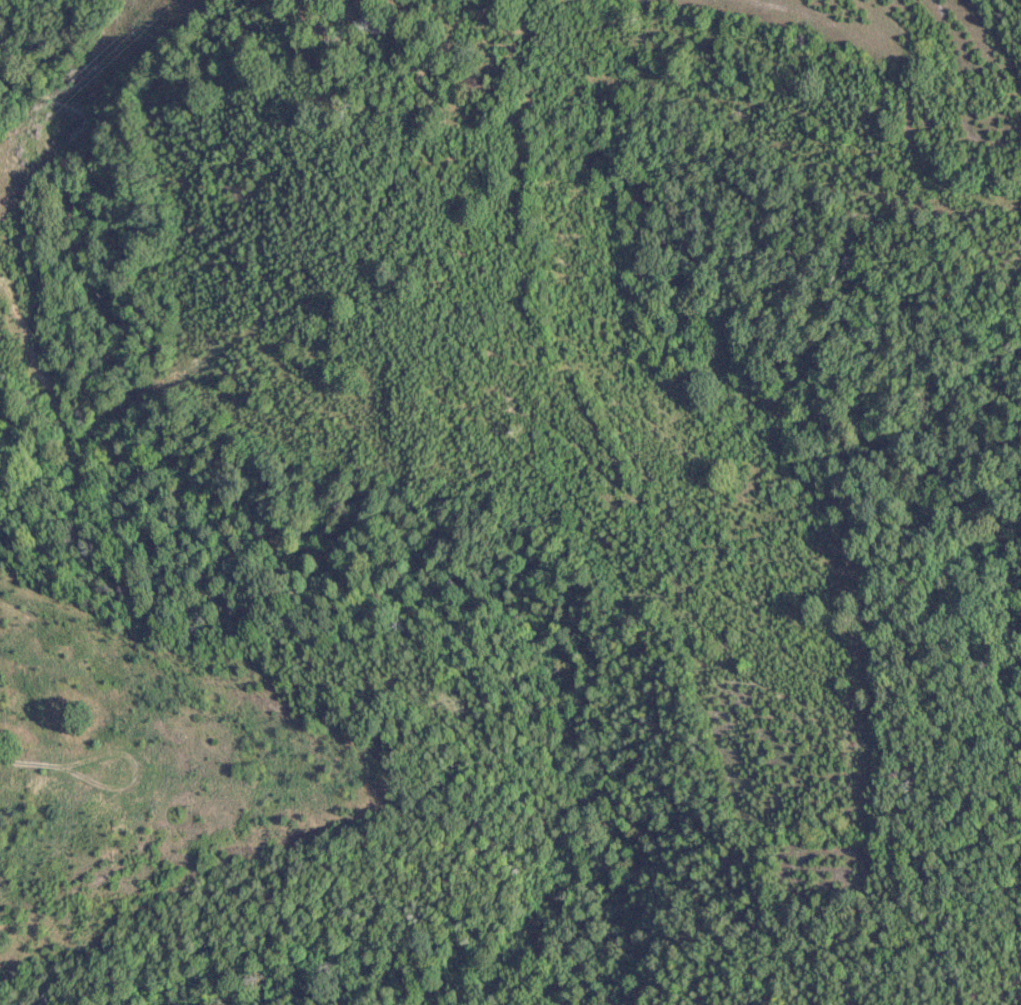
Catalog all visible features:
road: (33, 766)
road: (142, 770)

